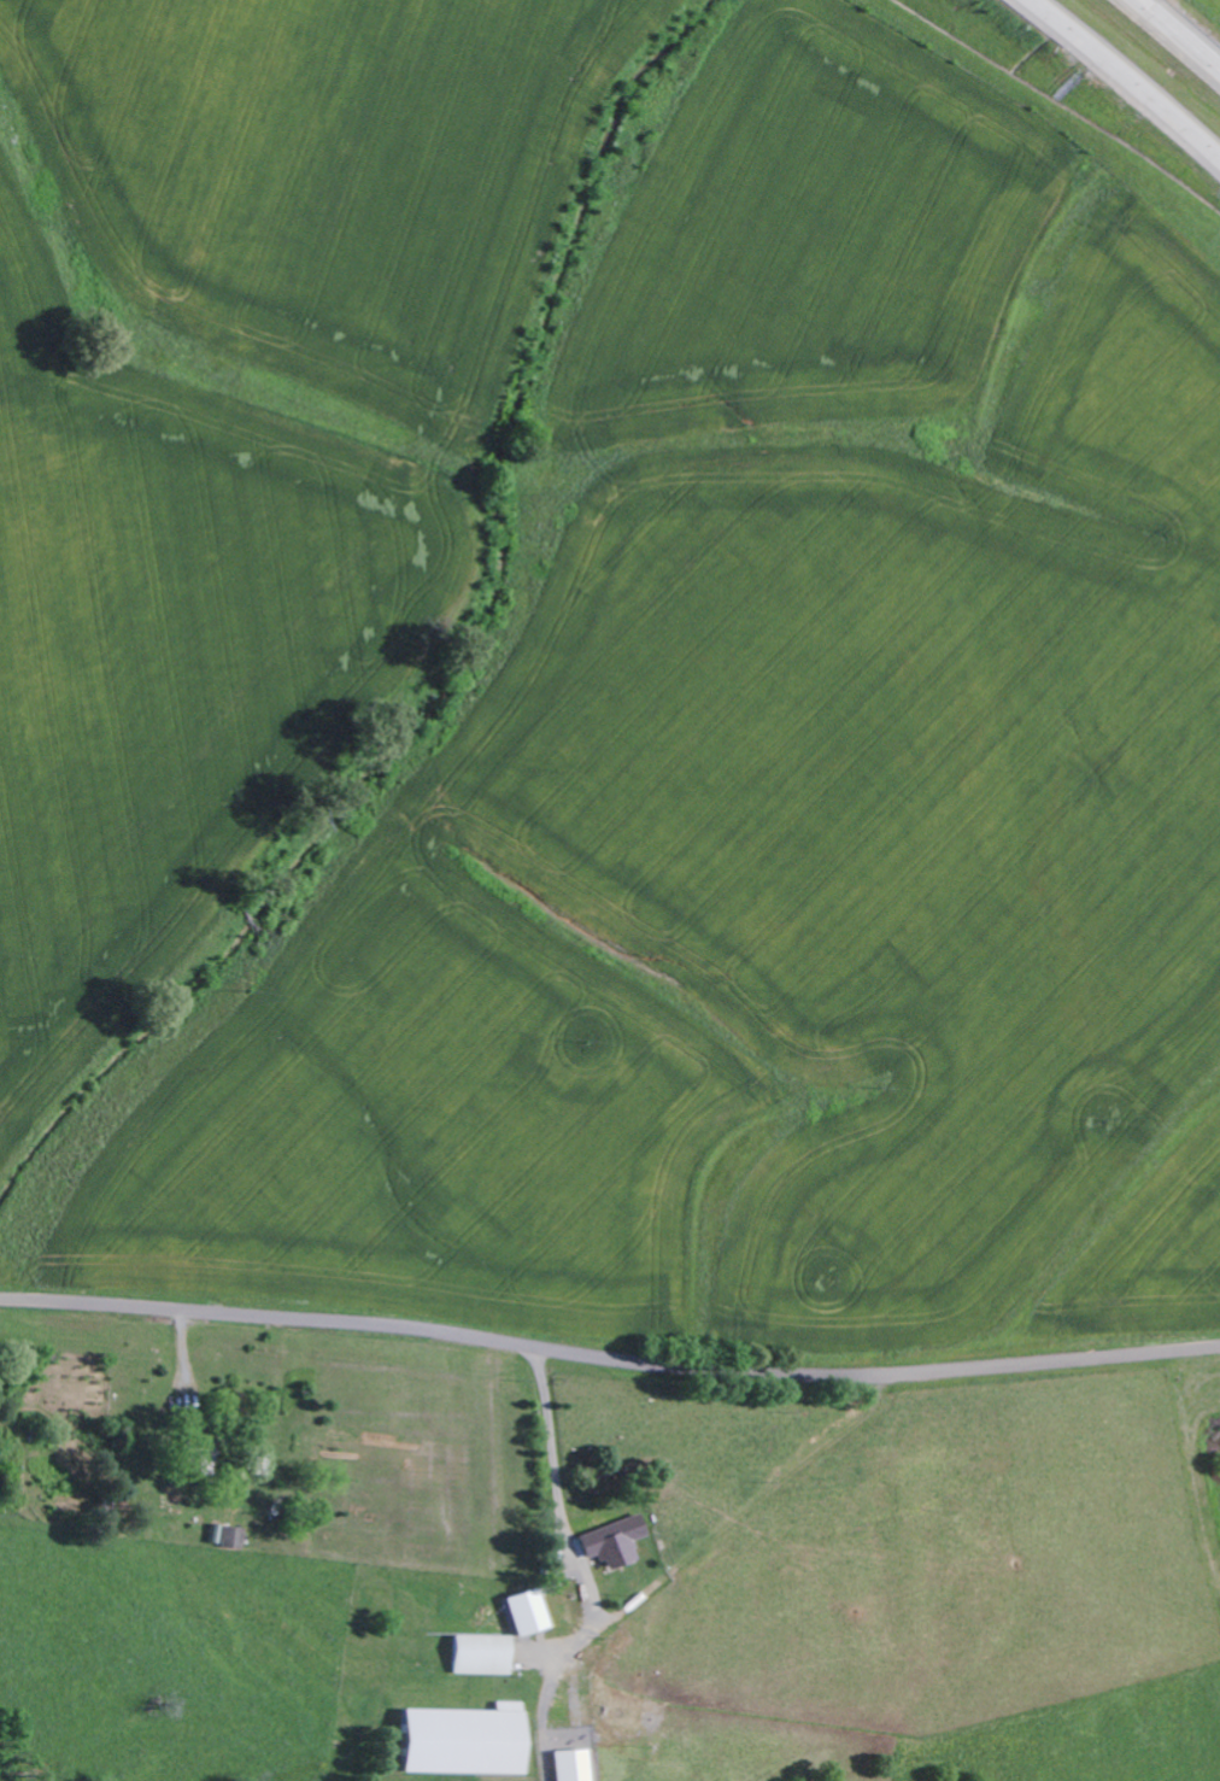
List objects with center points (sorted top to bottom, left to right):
road: (1177, 35)
road: (1122, 80)
road: (609, 1360)
building: (198, 1454)
building: (612, 1542)
building: (523, 1612)
building: (479, 1656)
building: (458, 1741)
building: (567, 1765)

